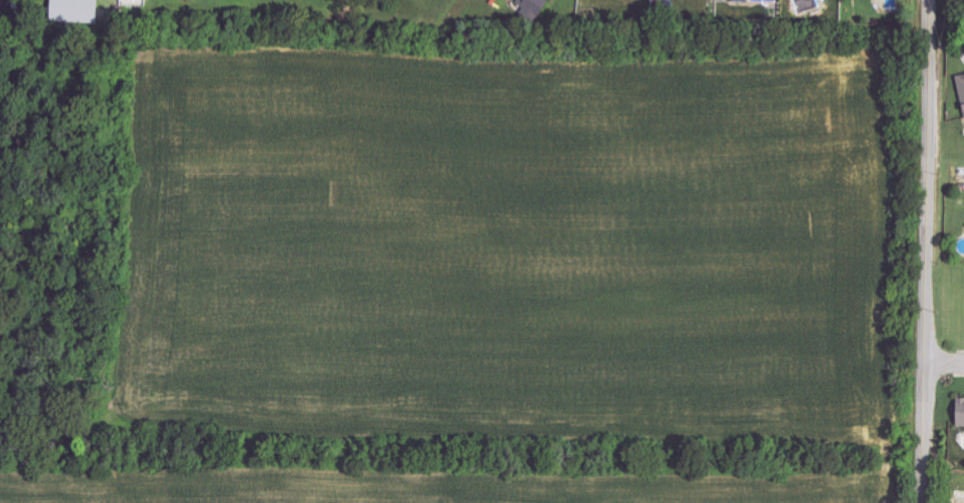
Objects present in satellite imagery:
building: (739, 0)
building: (539, 6)
building: (4, 7)
building: (81, 8)
building: (961, 90)
road: (926, 251)
road: (945, 361)
building: (959, 412)
building: (957, 496)

